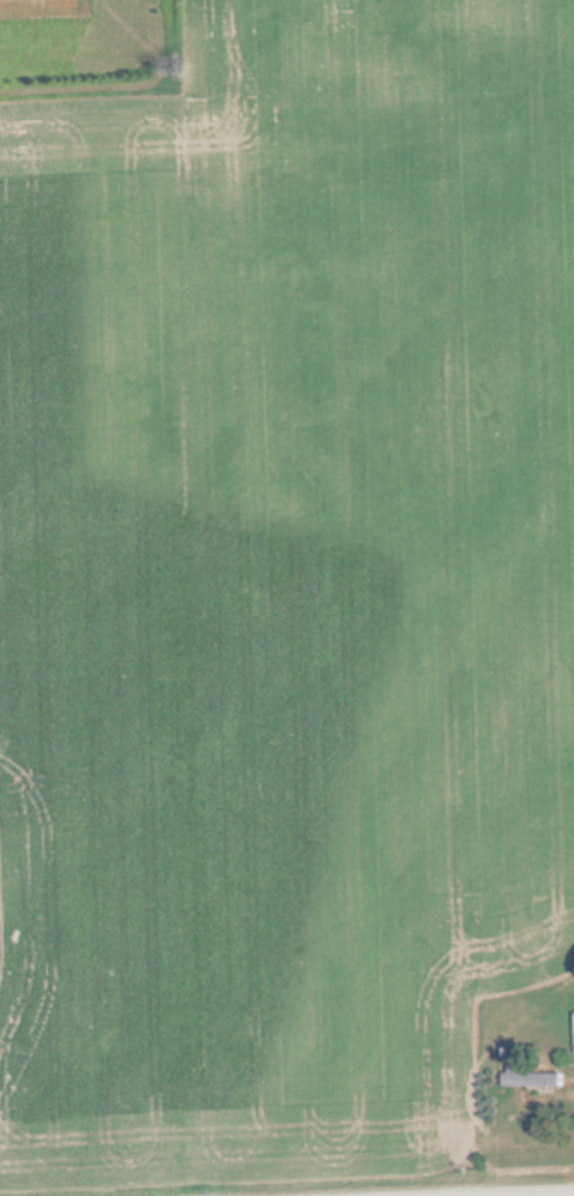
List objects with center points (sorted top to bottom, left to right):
building: (525, 1075)
road: (483, 1191)

